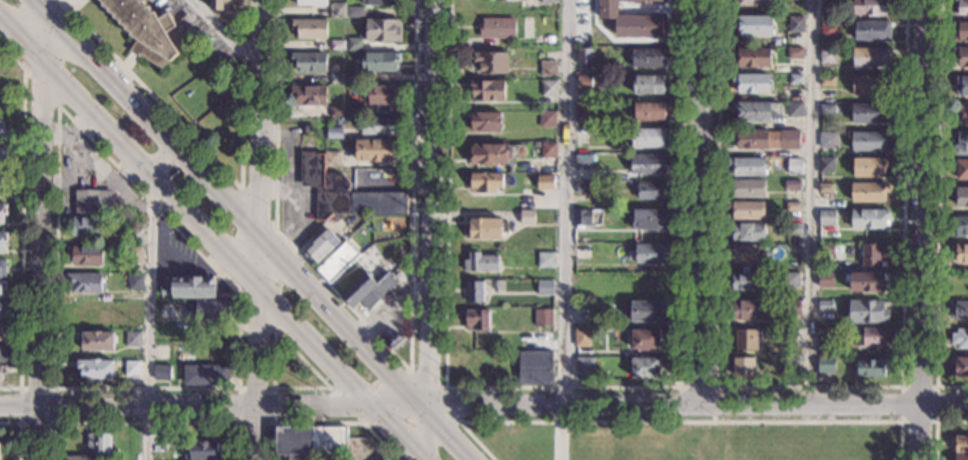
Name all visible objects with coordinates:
building: (506, 0)
building: (548, 1)
building: (311, 2)
building: (379, 2)
building: (756, 2)
building: (219, 5)
building: (828, 6)
building: (872, 7)
building: (961, 7)
building: (338, 10)
building: (355, 12)
building: (631, 20)
building: (796, 24)
building: (754, 25)
building: (497, 28)
building: (309, 29)
building: (147, 30)
building: (383, 30)
building: (828, 30)
building: (871, 31)
building: (960, 31)
road: (221, 33)
building: (549, 39)
building: (337, 45)
building: (353, 45)
building: (794, 53)
building: (584, 56)
building: (827, 56)
building: (960, 56)
building: (649, 57)
building: (752, 57)
building: (871, 57)
building: (380, 61)
building: (309, 62)
building: (490, 63)
building: (548, 68)
building: (352, 77)
building: (337, 78)
building: (796, 78)
building: (827, 81)
building: (584, 83)
building: (751, 83)
building: (649, 84)
building: (871, 85)
building: (962, 86)
building: (549, 88)
building: (487, 90)
building: (383, 94)
building: (309, 95)
road: (52, 101)
building: (795, 109)
building: (827, 109)
building: (353, 110)
building: (582, 110)
building: (651, 110)
building: (336, 111)
building: (756, 111)
building: (869, 113)
building: (962, 113)
building: (547, 119)
building: (486, 122)
building: (379, 126)
building: (307, 130)
building: (1, 131)
building: (334, 133)
road: (72, 134)
building: (581, 134)
building: (649, 137)
building: (826, 137)
building: (750, 139)
building: (789, 140)
building: (870, 141)
building: (961, 144)
building: (376, 150)
building: (548, 150)
building: (490, 154)
building: (3, 155)
road: (75, 158)
building: (332, 159)
building: (582, 162)
road: (215, 163)
building: (648, 164)
building: (794, 165)
building: (826, 165)
building: (747, 166)
building: (869, 167)
building: (960, 168)
road: (93, 180)
building: (545, 182)
building: (486, 183)
building: (792, 185)
building: (2, 186)
building: (324, 186)
building: (584, 187)
building: (747, 188)
building: (826, 188)
building: (653, 191)
building: (869, 192)
building: (960, 196)
road: (145, 198)
road: (810, 202)
building: (93, 203)
road: (699, 203)
building: (378, 204)
road: (428, 205)
building: (792, 207)
road: (938, 208)
road: (257, 209)
building: (747, 210)
building: (3, 212)
building: (527, 217)
building: (827, 218)
building: (870, 218)
building: (582, 219)
building: (649, 219)
road: (21, 220)
building: (86, 226)
building: (961, 226)
building: (486, 228)
building: (794, 228)
road: (40, 229)
road: (254, 230)
road: (256, 230)
road: (564, 230)
road: (922, 230)
building: (746, 231)
building: (134, 236)
road: (210, 236)
building: (3, 240)
building: (320, 247)
building: (826, 249)
building: (582, 251)
building: (651, 253)
building: (960, 253)
building: (873, 254)
building: (85, 255)
building: (133, 255)
building: (745, 255)
building: (546, 260)
building: (337, 262)
building: (481, 262)
building: (2, 269)
building: (825, 279)
building: (790, 280)
building: (744, 281)
building: (866, 281)
building: (135, 282)
building: (652, 282)
building: (84, 283)
building: (2, 287)
building: (189, 287)
building: (545, 287)
building: (358, 290)
building: (475, 292)
road: (149, 301)
building: (825, 305)
building: (793, 307)
building: (213, 309)
building: (959, 309)
building: (2, 310)
building: (164, 310)
building: (745, 310)
building: (649, 311)
building: (867, 311)
road: (255, 312)
building: (543, 317)
building: (477, 320)
building: (1, 332)
building: (789, 334)
building: (582, 337)
building: (874, 337)
building: (960, 338)
building: (132, 339)
building: (645, 339)
building: (746, 340)
building: (97, 341)
building: (825, 345)
building: (2, 352)
road: (391, 352)
road: (301, 358)
building: (790, 363)
building: (825, 364)
building: (959, 365)
building: (644, 367)
building: (744, 367)
building: (96, 368)
building: (131, 368)
building: (535, 368)
building: (584, 368)
building: (872, 368)
building: (2, 372)
building: (162, 373)
building: (206, 375)
road: (808, 386)
road: (935, 386)
road: (237, 387)
road: (560, 387)
road: (696, 387)
road: (54, 388)
road: (483, 409)
road: (456, 415)
road: (672, 421)
road: (324, 422)
road: (146, 423)
road: (934, 424)
road: (18, 432)
road: (428, 435)
building: (310, 441)
building: (99, 443)
building: (960, 444)
building: (202, 451)
building: (0, 454)
building: (961, 457)
building: (81, 458)
building: (299, 458)
building: (386, 459)

